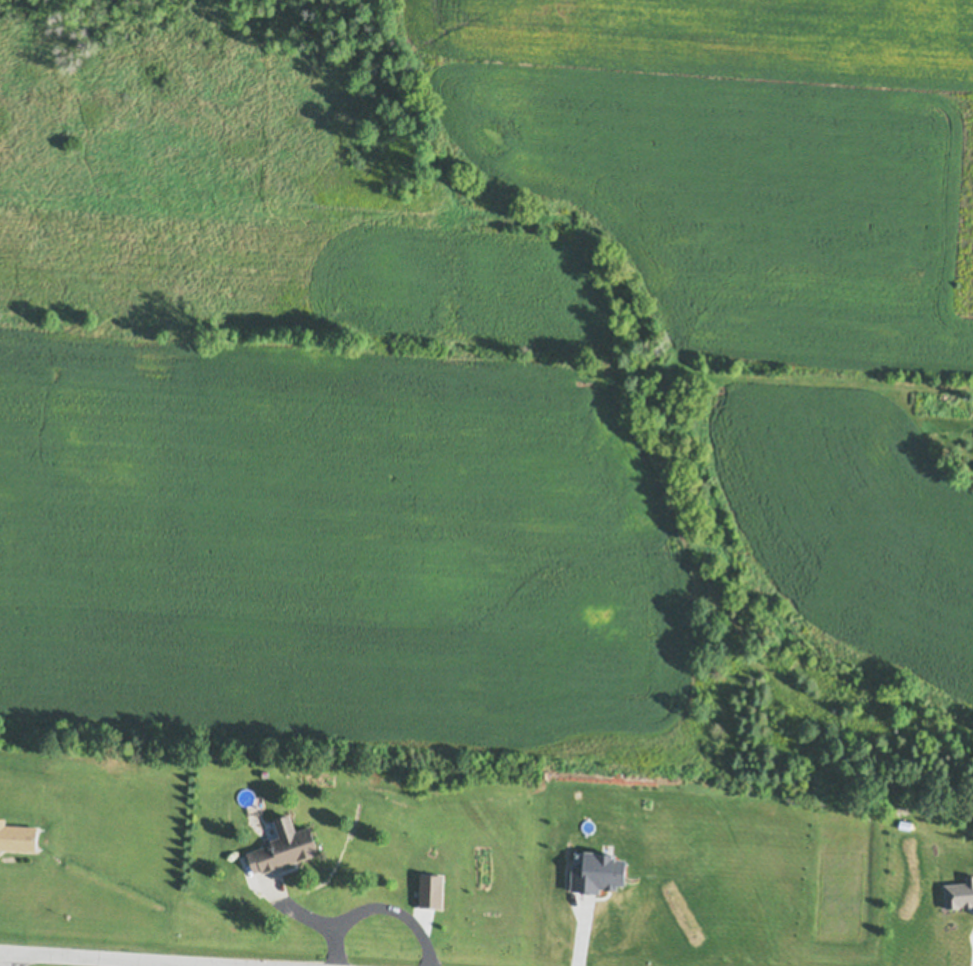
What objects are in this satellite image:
building: (17, 833)
building: (283, 844)
building: (597, 869)
building: (959, 889)
road: (354, 910)
road: (334, 944)
road: (11, 959)
road: (110, 959)

